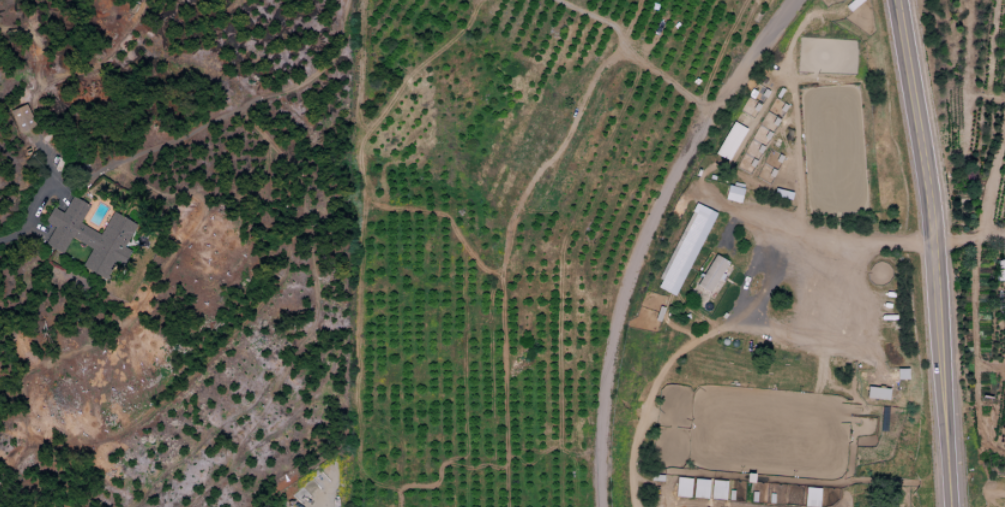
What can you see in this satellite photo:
building: (22, 118)
building: (729, 141)
road: (920, 145)
building: (732, 194)
road: (796, 231)
road: (25, 232)
road: (647, 235)
building: (90, 236)
building: (684, 249)
building: (1000, 271)
building: (711, 274)
road: (680, 352)
building: (876, 393)
road: (943, 399)
building: (682, 487)
building: (699, 488)
building: (717, 490)
building: (811, 497)

